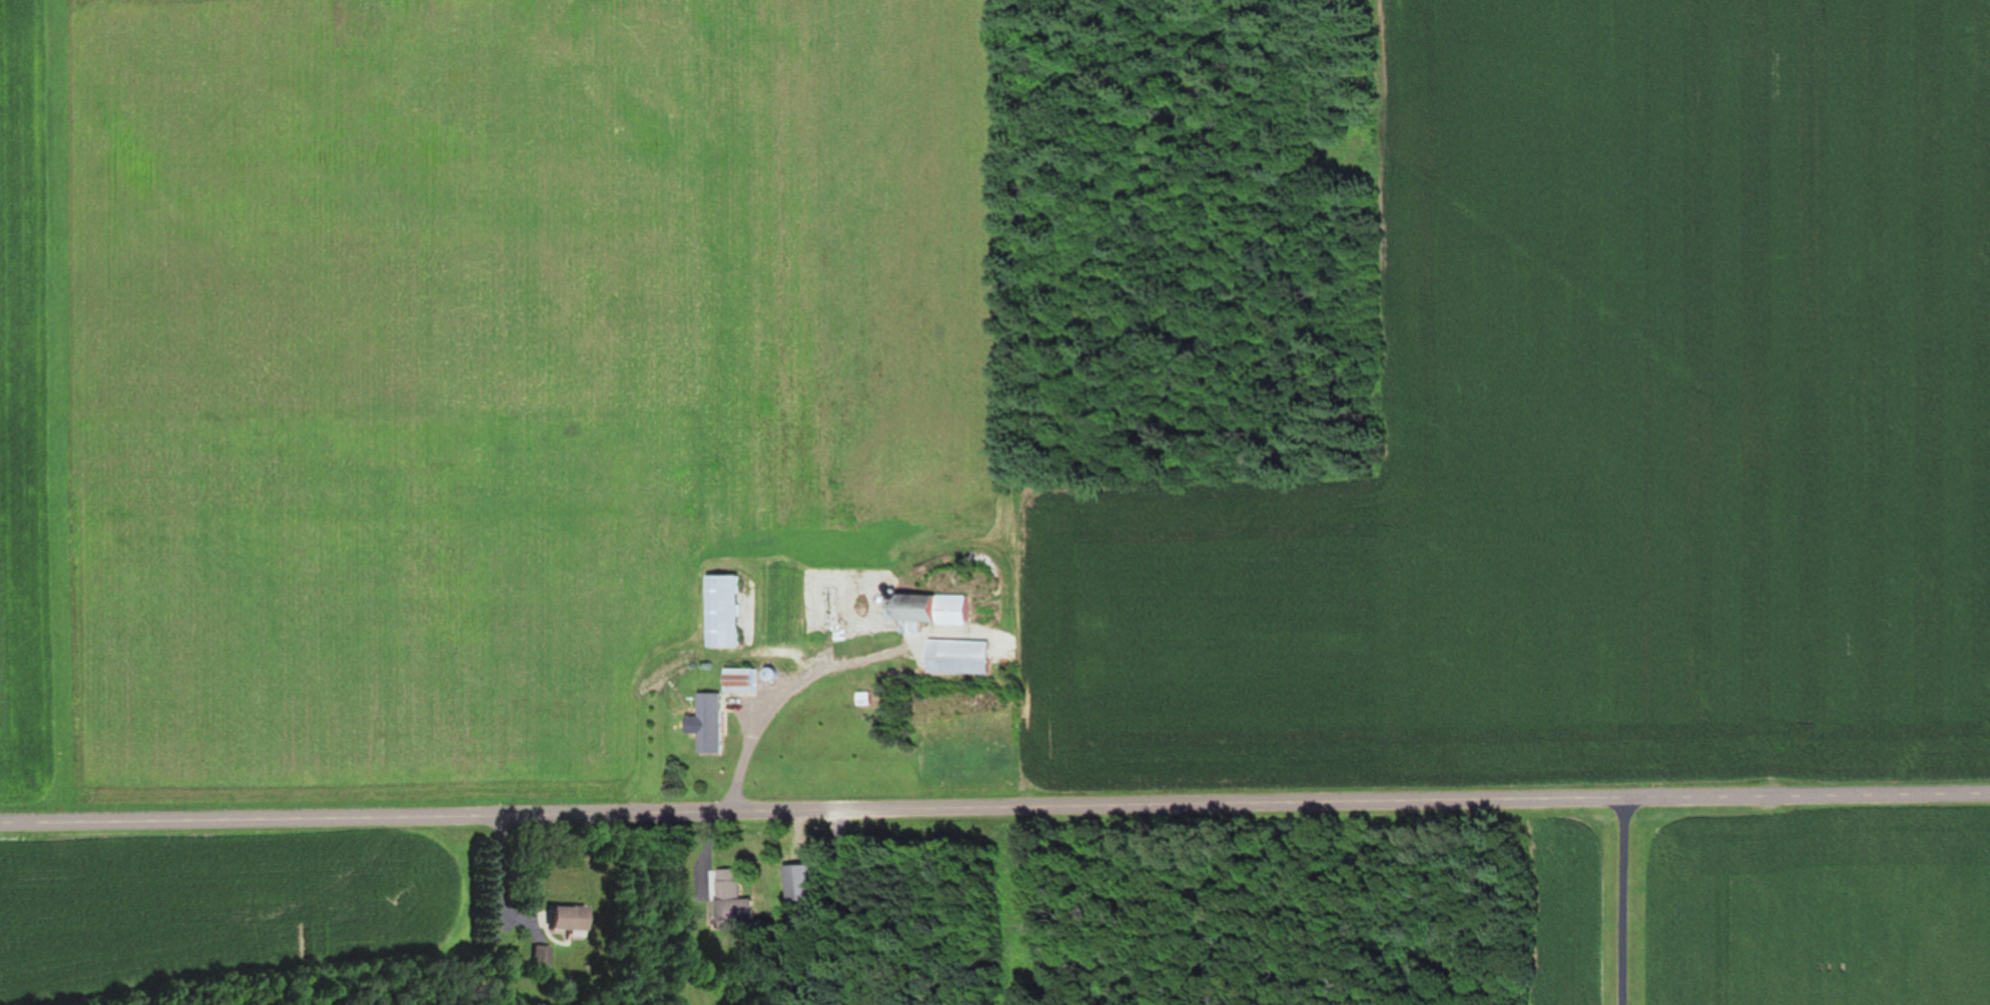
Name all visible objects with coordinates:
building: (927, 607)
building: (722, 609)
building: (955, 656)
building: (738, 679)
building: (710, 721)
road: (753, 726)
road: (994, 807)
building: (807, 881)
building: (734, 894)
road: (1621, 902)
building: (571, 916)

